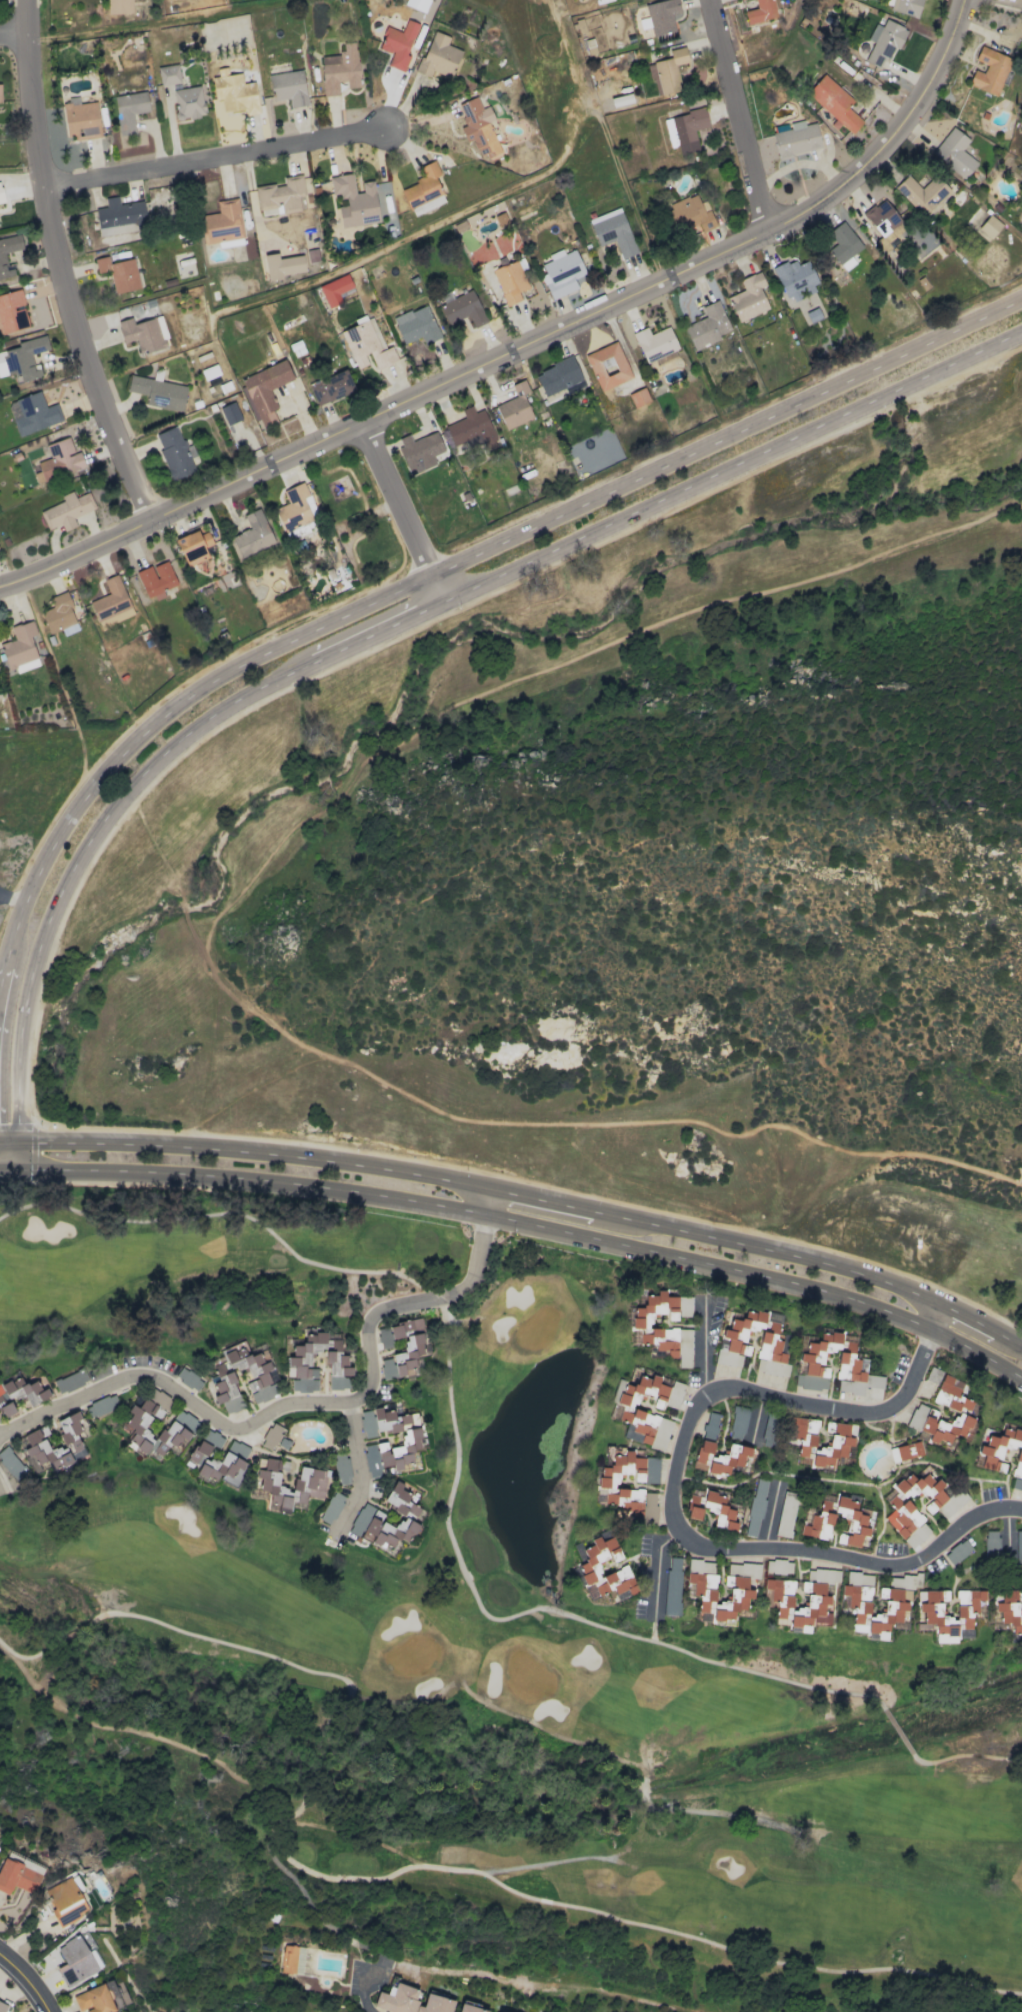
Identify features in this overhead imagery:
road: (1020, 0)
building: (417, 4)
building: (118, 6)
building: (904, 6)
building: (760, 11)
building: (662, 17)
road: (13, 35)
building: (884, 41)
building: (398, 43)
building: (438, 56)
building: (340, 69)
building: (669, 70)
building: (989, 70)
building: (168, 74)
building: (289, 87)
building: (235, 93)
building: (188, 102)
building: (834, 102)
building: (129, 110)
road: (736, 115)
building: (81, 118)
building: (478, 127)
building: (685, 129)
building: (796, 138)
building: (954, 153)
road: (214, 159)
building: (423, 186)
building: (922, 193)
building: (281, 195)
building: (0, 200)
building: (355, 201)
building: (689, 214)
building: (120, 216)
building: (884, 220)
building: (222, 224)
building: (1020, 224)
building: (989, 226)
building: (613, 231)
building: (842, 242)
building: (312, 255)
building: (283, 265)
road: (59, 266)
building: (1, 272)
building: (561, 272)
building: (119, 273)
building: (795, 279)
building: (510, 281)
building: (334, 289)
building: (748, 297)
building: (463, 309)
building: (12, 311)
building: (416, 325)
building: (707, 326)
building: (144, 334)
road: (525, 343)
building: (654, 343)
building: (376, 344)
building: (22, 358)
building: (608, 366)
building: (558, 376)
building: (331, 387)
building: (265, 390)
building: (158, 392)
building: (638, 397)
building: (514, 407)
building: (33, 413)
building: (230, 413)
building: (471, 428)
road: (727, 434)
building: (419, 451)
building: (175, 453)
building: (59, 461)
road: (734, 468)
building: (335, 492)
road: (394, 497)
building: (67, 508)
building: (294, 508)
building: (253, 534)
park: (373, 539)
building: (193, 546)
building: (156, 579)
road: (438, 587)
building: (111, 601)
building: (60, 615)
building: (20, 647)
road: (159, 714)
road: (128, 794)
road: (12, 894)
road: (218, 916)
road: (3, 1136)
road: (3, 1139)
traffic signals: (6, 1139)
road: (251, 1149)
road: (3, 1153)
road: (0, 1168)
traffic signals: (1, 1168)
road: (246, 1176)
road: (492, 1200)
road: (220, 1212)
road: (724, 1235)
road: (715, 1263)
road: (943, 1316)
road: (985, 1323)
building: (652, 1328)
building: (384, 1337)
building: (731, 1342)
building: (405, 1350)
road: (979, 1353)
building: (852, 1362)
building: (298, 1364)
building: (259, 1376)
building: (188, 1379)
building: (26, 1390)
building: (258, 1395)
building: (157, 1397)
road: (295, 1404)
building: (961, 1407)
building: (7, 1409)
building: (636, 1414)
building: (738, 1422)
building: (710, 1423)
building: (136, 1425)
building: (769, 1428)
building: (271, 1436)
building: (35, 1440)
building: (841, 1442)
building: (411, 1443)
building: (905, 1451)
building: (719, 1457)
building: (991, 1458)
building: (203, 1461)
building: (11, 1463)
road: (359, 1467)
building: (309, 1483)
building: (606, 1485)
road: (673, 1501)
building: (711, 1509)
building: (782, 1511)
building: (902, 1511)
building: (408, 1514)
building: (754, 1515)
road: (769, 1518)
building: (820, 1520)
road: (1005, 1532)
building: (991, 1543)
building: (1018, 1545)
building: (957, 1551)
road: (657, 1564)
building: (778, 1566)
building: (604, 1568)
building: (822, 1575)
building: (907, 1581)
building: (672, 1591)
building: (741, 1592)
building: (797, 1603)
building: (855, 1604)
road: (539, 1607)
building: (1009, 1610)
park: (490, 1613)
building: (929, 1615)
road: (84, 1625)
building: (965, 1633)
road: (253, 1650)
road: (38, 1653)
road: (896, 1729)
road: (318, 1747)
road: (955, 1755)
building: (32, 1866)
building: (17, 1877)
building: (61, 1890)
road: (583, 1908)
building: (79, 1956)
building: (288, 1959)
road: (27, 1981)
road: (365, 1992)
building: (93, 2000)
building: (410, 2001)
building: (2, 2007)
building: (470, 2008)

